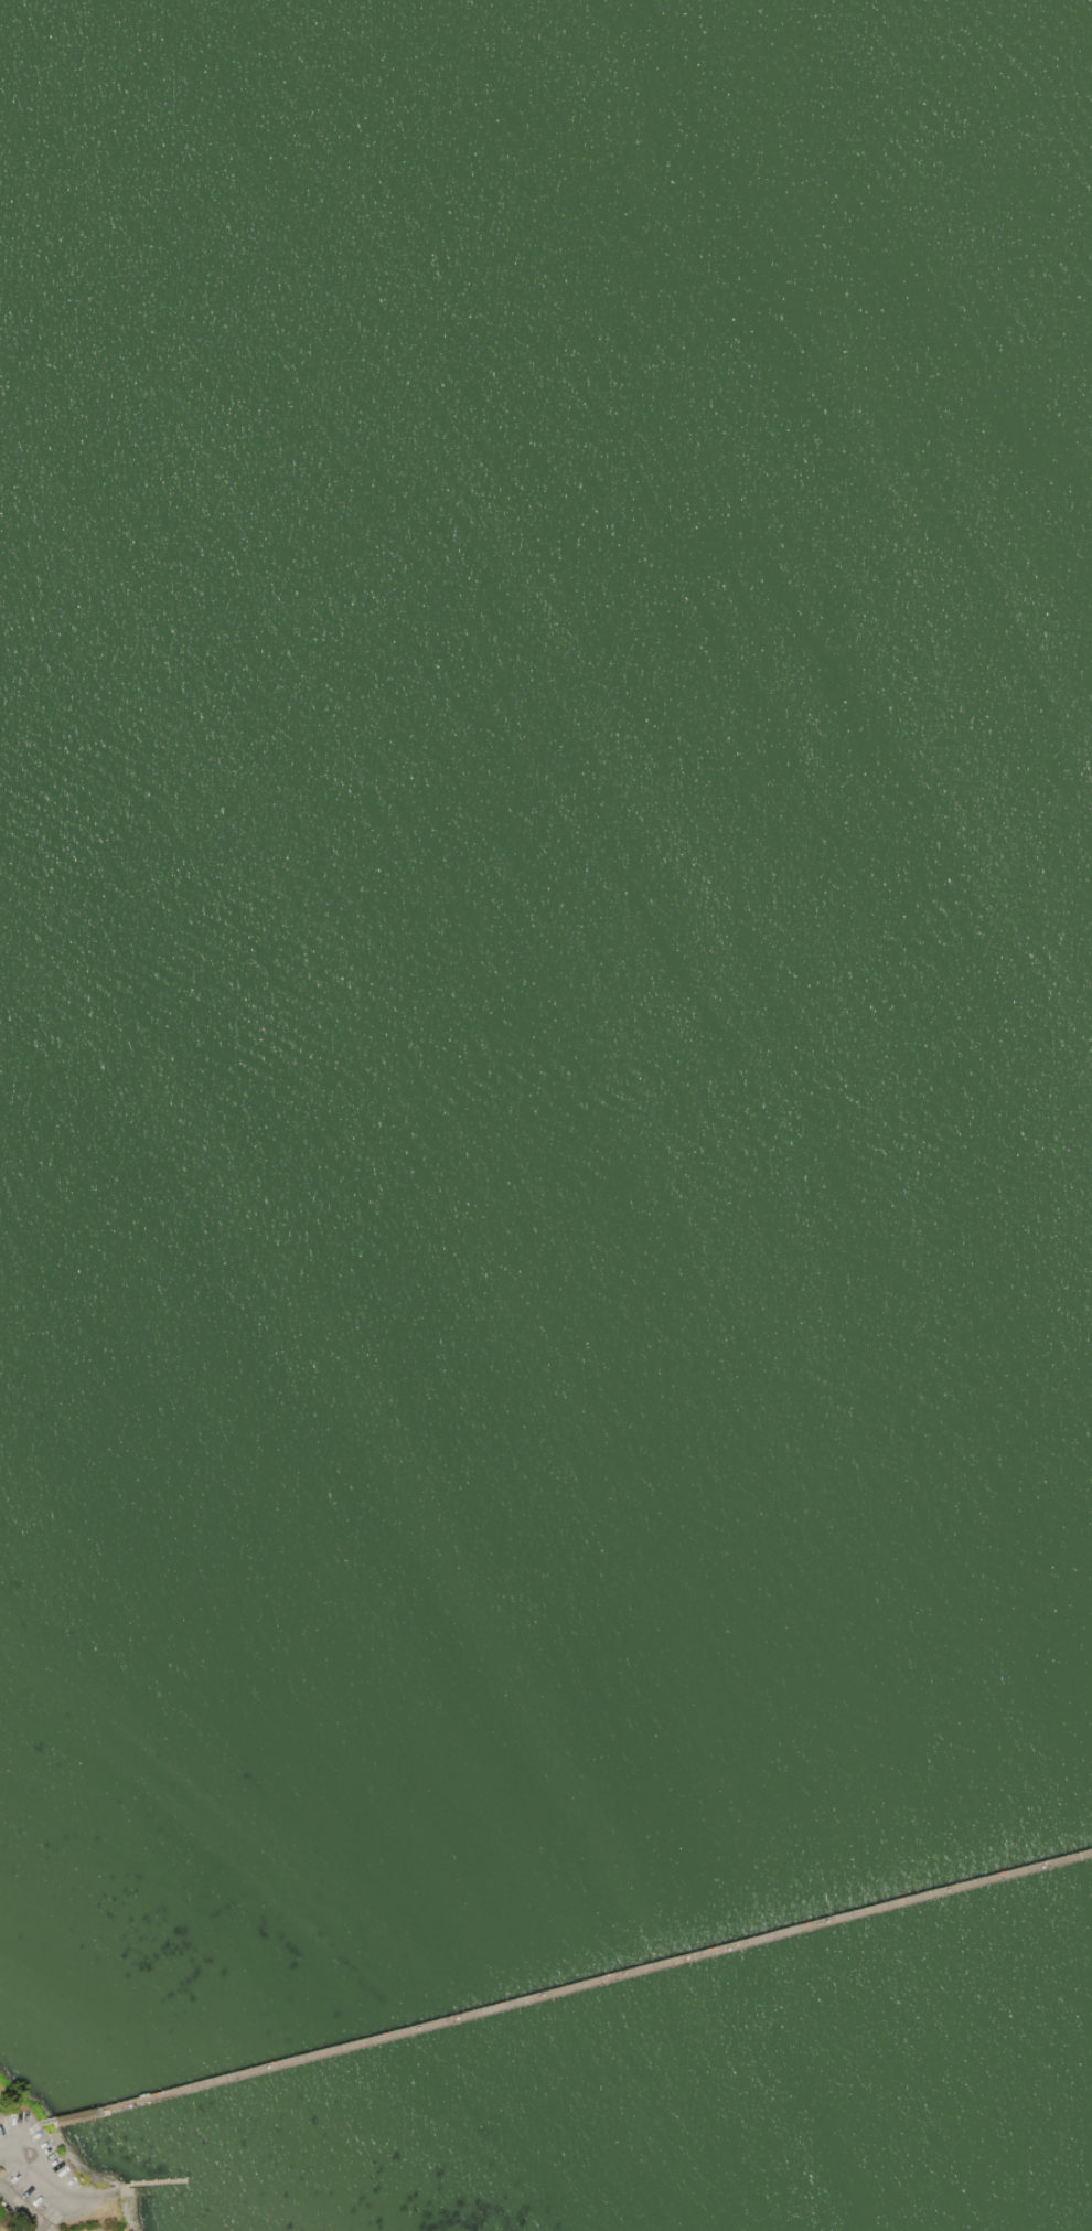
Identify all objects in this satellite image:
pier: (568, 1990)
road: (559, 1994)
building: (0, 2109)
building: (0, 2113)
road: (12, 2135)
road: (39, 2171)
road: (22, 2208)

